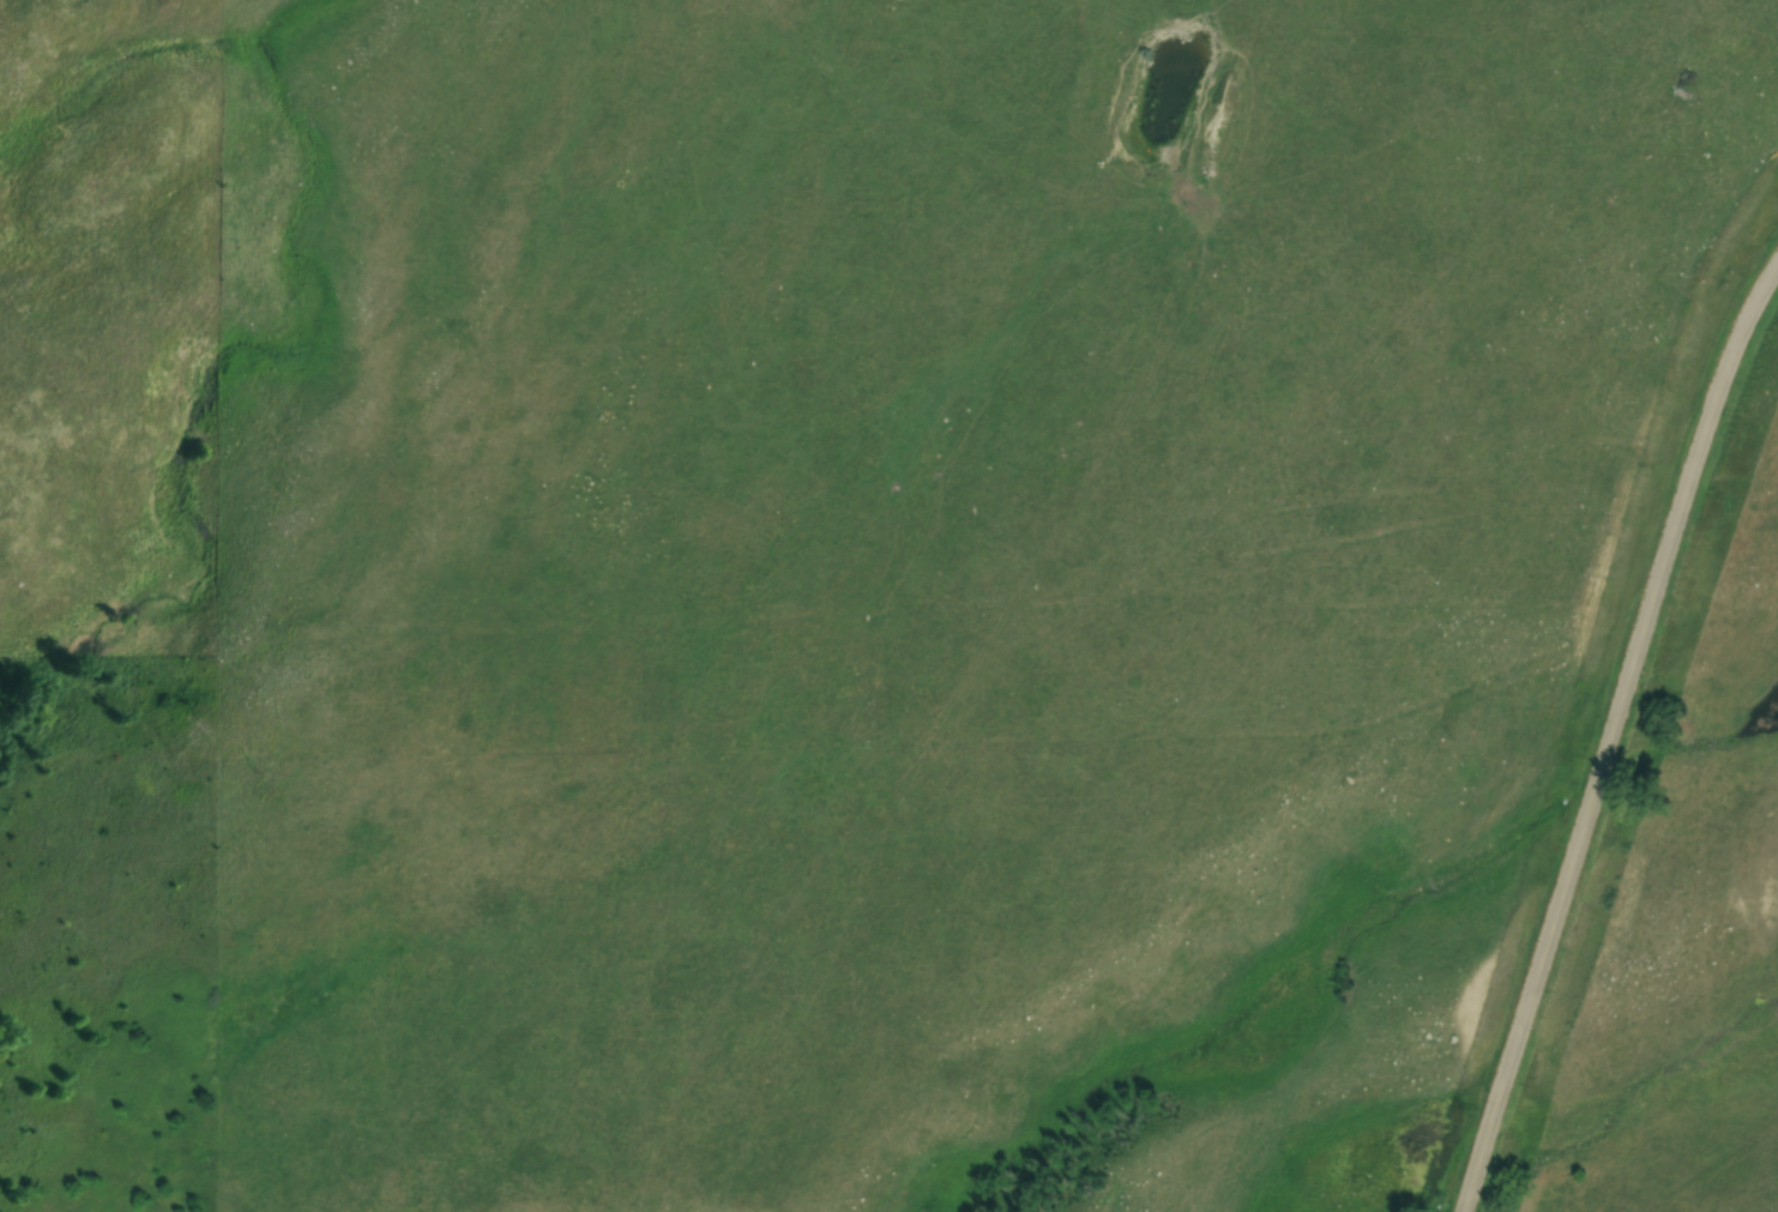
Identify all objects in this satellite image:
road: (1665, 513)
road: (1514, 1001)

